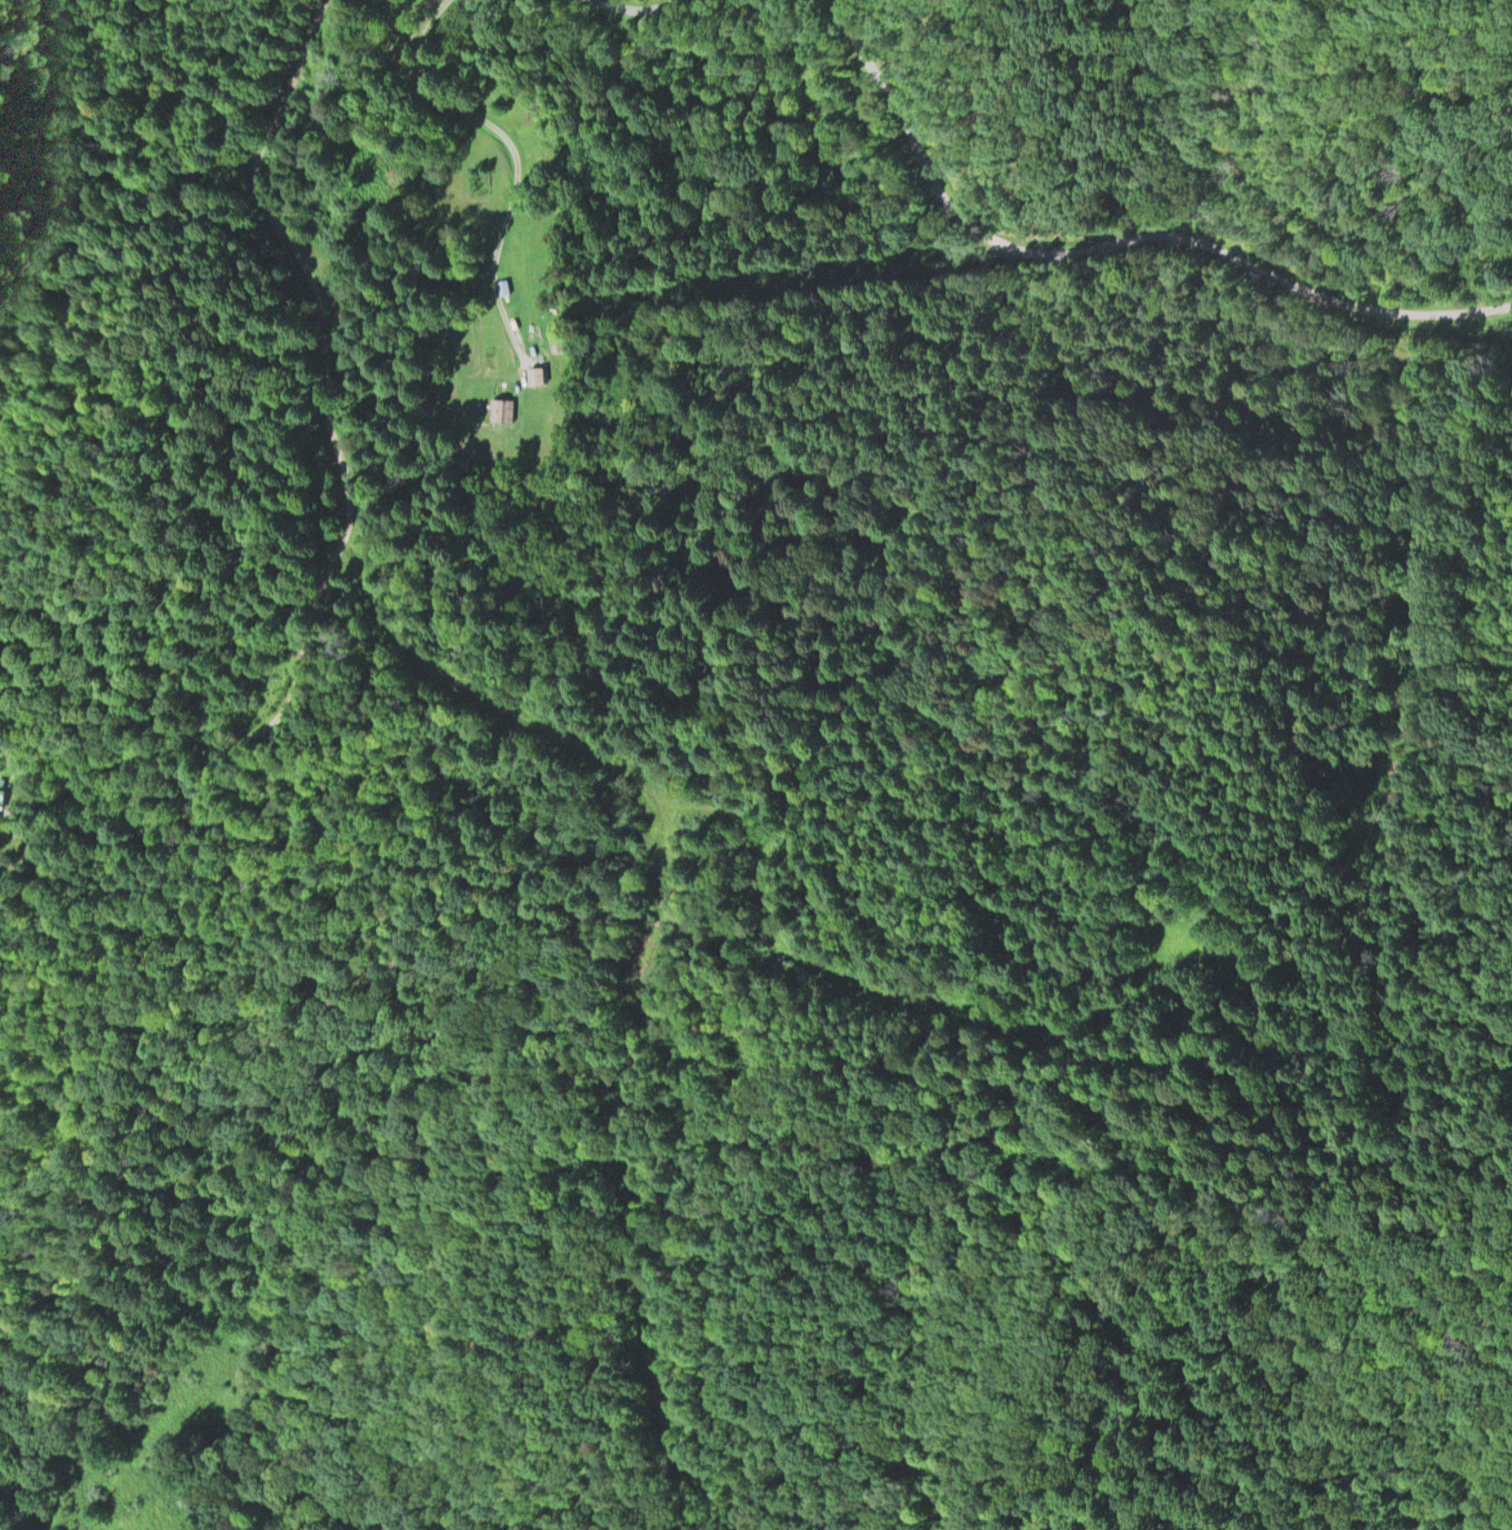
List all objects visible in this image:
road: (625, 6)
road: (519, 162)
road: (217, 180)
road: (1113, 246)
building: (505, 285)
building: (538, 373)
building: (502, 407)
road: (266, 714)
road: (632, 778)
building: (6, 798)
road: (1178, 957)

